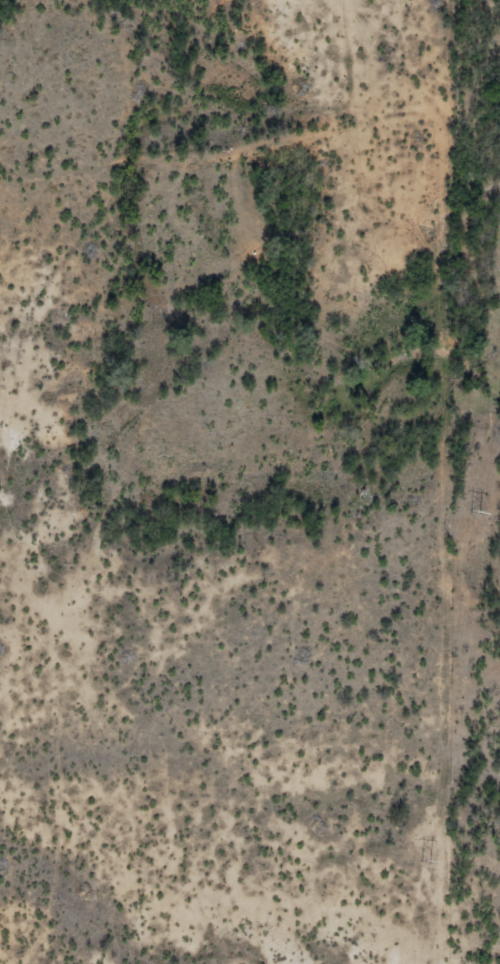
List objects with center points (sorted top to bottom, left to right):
power tower: (475, 509)
power tower: (426, 861)

